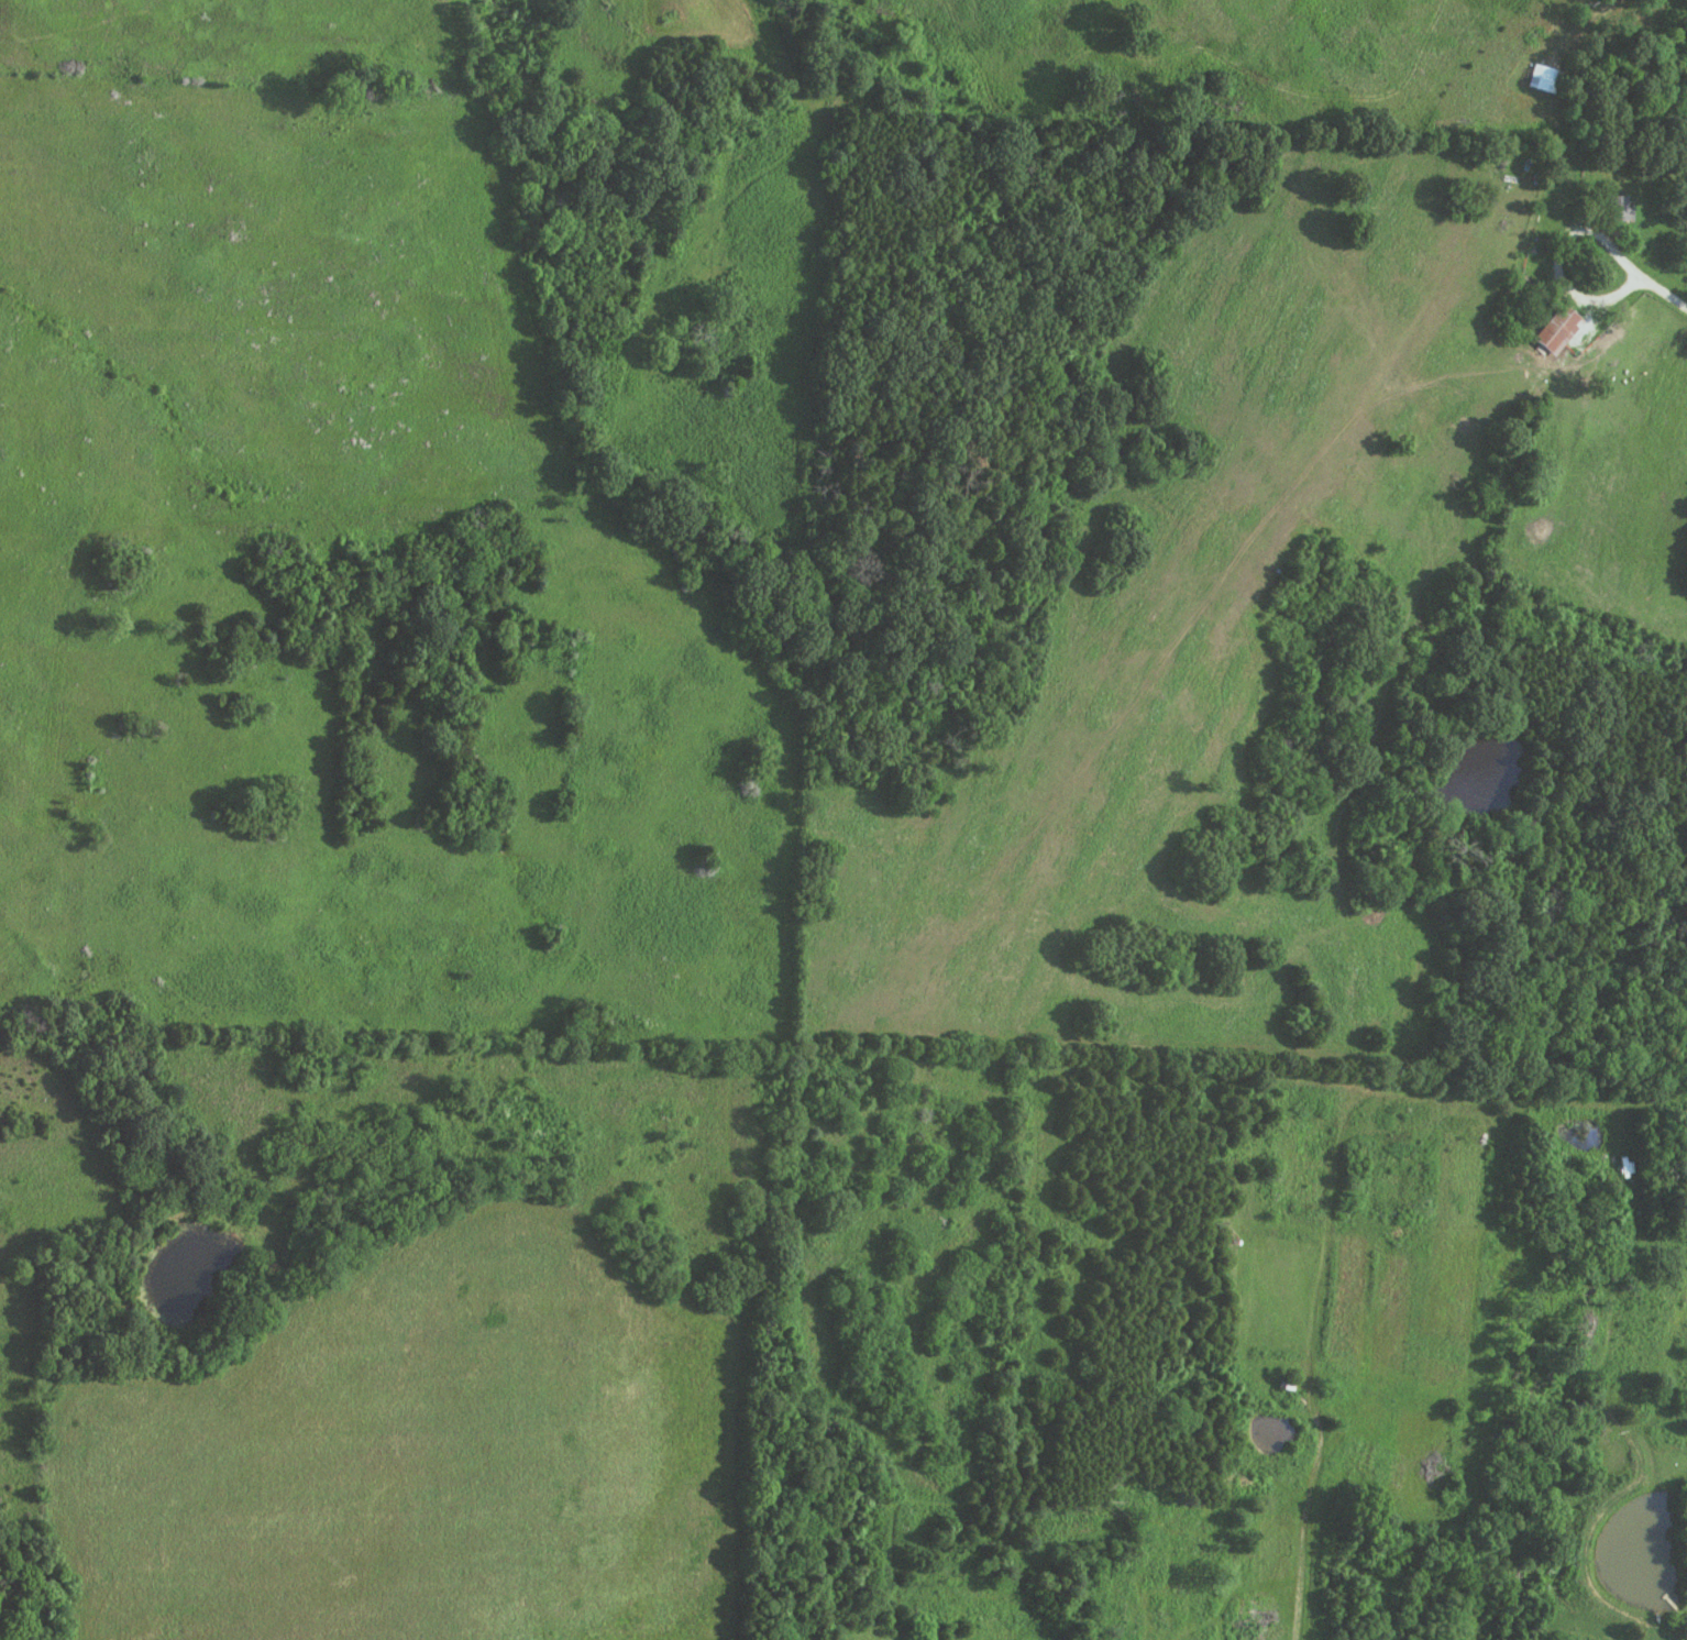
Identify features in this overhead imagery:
road: (1599, 18)
building: (1544, 79)
building: (1619, 208)
road: (1577, 286)
road: (1668, 298)
building: (1558, 330)

